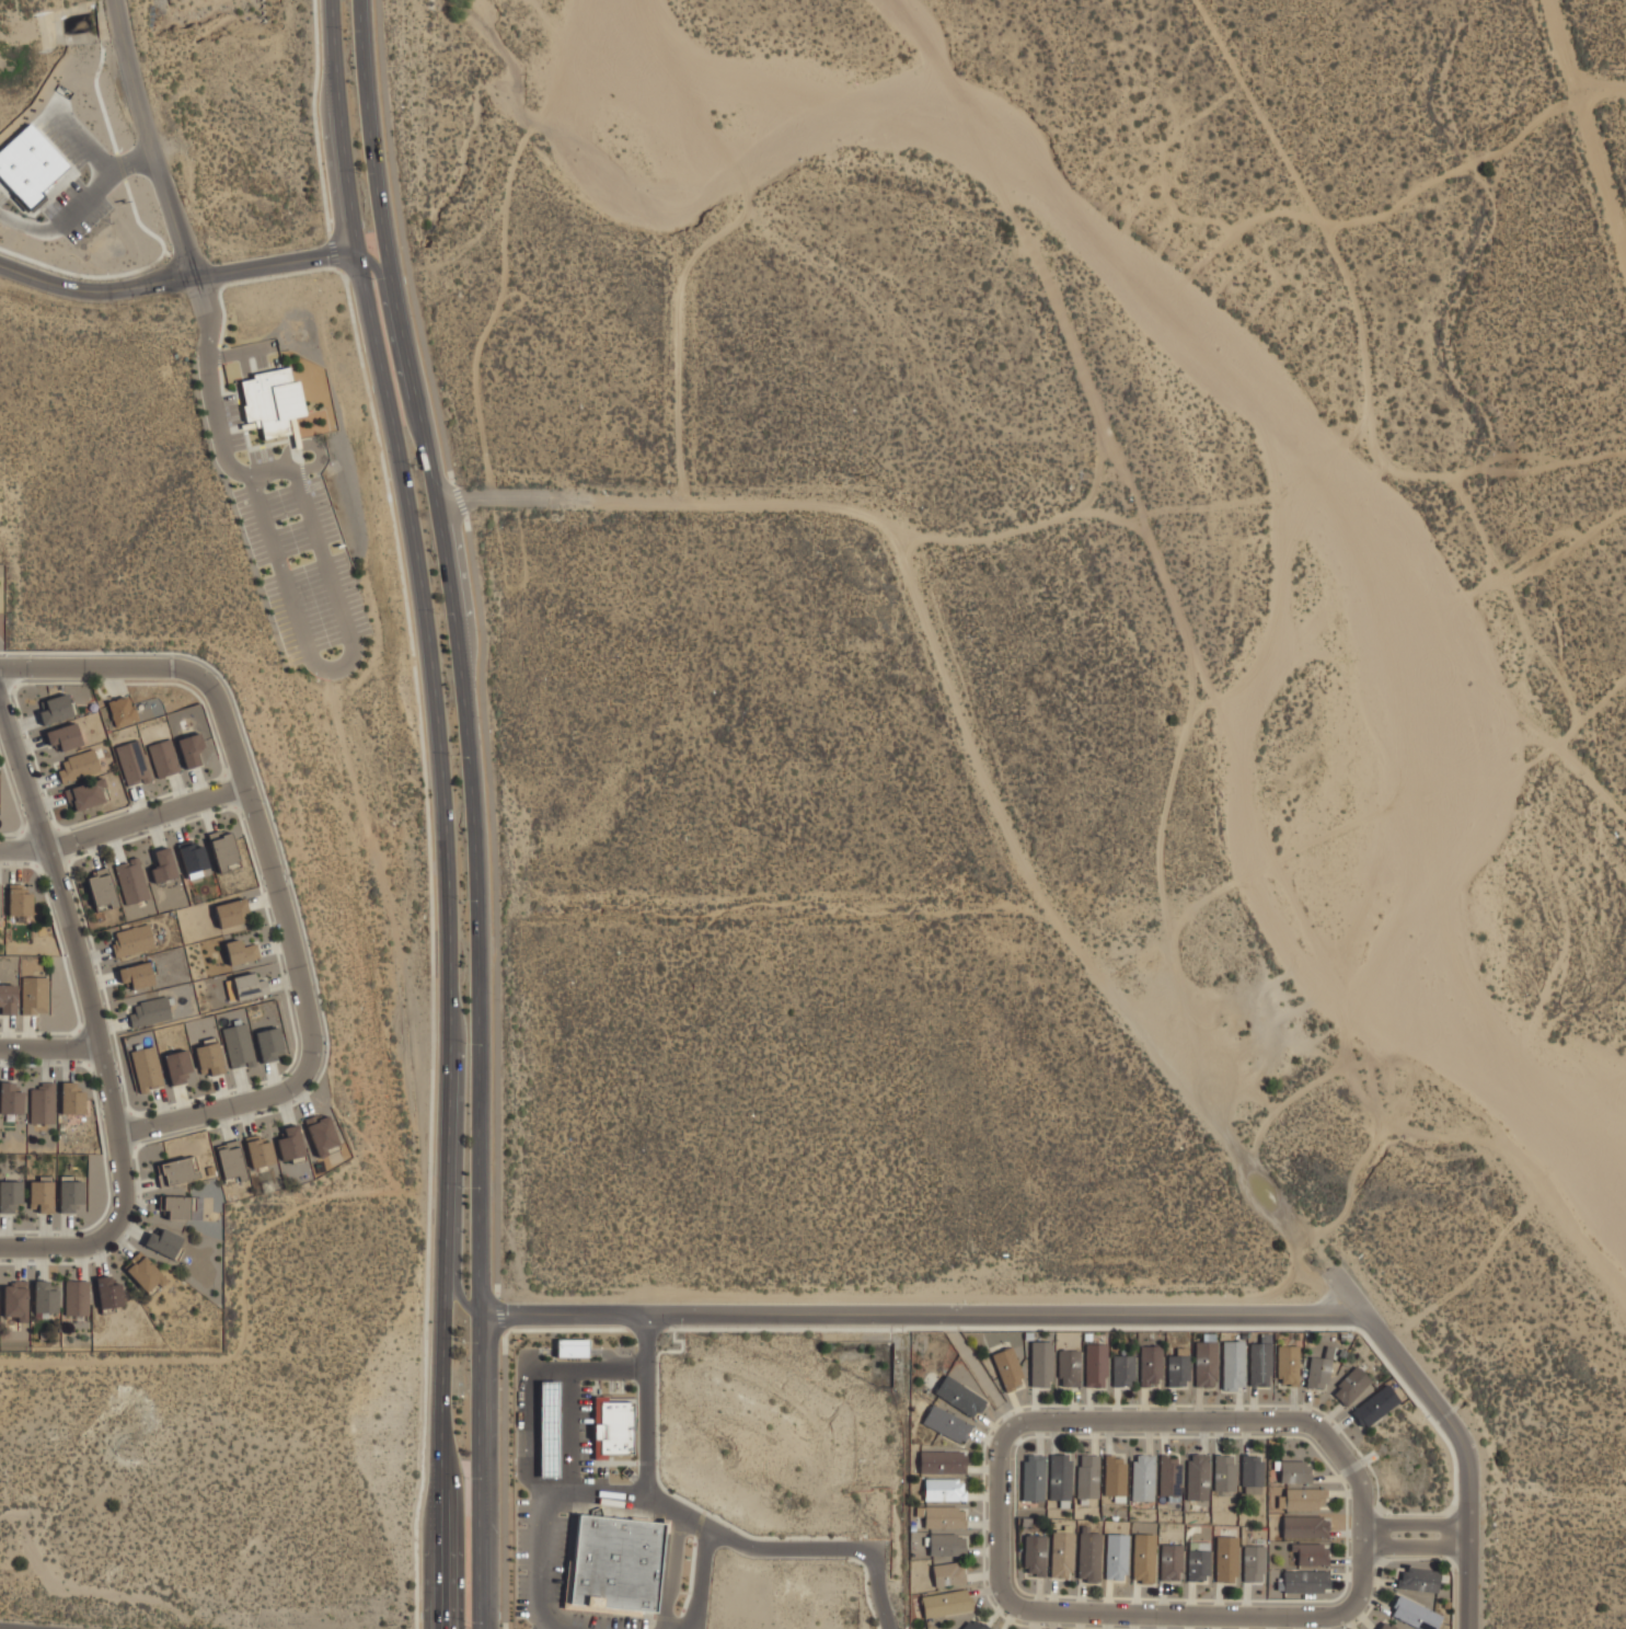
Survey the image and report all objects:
road: (150, 139)
building: (30, 164)
road: (1579, 165)
road: (380, 272)
road: (176, 280)
road: (679, 358)
building: (270, 399)
road: (212, 403)
river: (1280, 420)
road: (494, 502)
building: (56, 708)
building: (120, 708)
building: (62, 736)
building: (189, 749)
building: (162, 756)
building: (130, 760)
building: (77, 765)
road: (982, 769)
building: (85, 793)
road: (443, 810)
road: (472, 810)
road: (123, 825)
building: (223, 850)
building: (193, 856)
building: (162, 864)
road: (269, 869)
building: (130, 880)
building: (101, 888)
building: (18, 898)
building: (231, 911)
building: (130, 939)
building: (240, 950)
building: (137, 974)
building: (247, 984)
building: (33, 994)
building: (8, 998)
building: (149, 1010)
road: (96, 1021)
building: (268, 1043)
building: (237, 1044)
road: (51, 1047)
building: (208, 1056)
building: (177, 1066)
building: (146, 1067)
building: (10, 1098)
building: (70, 1099)
building: (41, 1102)
building: (321, 1134)
building: (290, 1142)
building: (258, 1150)
building: (230, 1160)
building: (175, 1169)
building: (41, 1193)
building: (69, 1194)
building: (10, 1195)
building: (177, 1206)
building: (164, 1241)
road: (454, 1267)
building: (143, 1272)
building: (108, 1293)
building: (44, 1297)
building: (76, 1298)
building: (14, 1301)
road: (923, 1313)
building: (570, 1346)
building: (1259, 1361)
building: (1039, 1363)
building: (1204, 1363)
building: (1289, 1363)
building: (1095, 1364)
building: (1232, 1364)
building: (1150, 1365)
road: (616, 1367)
building: (1068, 1367)
building: (1007, 1368)
building: (1121, 1370)
building: (1177, 1370)
building: (1316, 1370)
building: (1350, 1386)
building: (958, 1395)
building: (1374, 1404)
building: (945, 1422)
building: (612, 1425)
road: (1452, 1427)
building: (547, 1429)
road: (587, 1429)
road: (647, 1452)
building: (942, 1460)
building: (1223, 1471)
building: (1293, 1471)
building: (1250, 1472)
building: (1116, 1475)
building: (1169, 1475)
building: (1087, 1476)
building: (1196, 1476)
building: (1033, 1477)
building: (1059, 1477)
building: (1142, 1477)
building: (944, 1489)
building: (1304, 1498)
building: (939, 1516)
road: (1410, 1523)
building: (1303, 1525)
building: (946, 1544)
road: (1410, 1545)
road: (789, 1548)
building: (1060, 1553)
building: (1310, 1553)
building: (1033, 1555)
building: (1088, 1556)
building: (1115, 1556)
building: (1225, 1557)
building: (1143, 1558)
road: (543, 1560)
building: (1198, 1560)
building: (1169, 1561)
building: (1252, 1562)
building: (612, 1564)
building: (948, 1573)
road: (704, 1578)
building: (1417, 1578)
building: (1304, 1580)
building: (945, 1602)
road: (1035, 1608)
building: (1414, 1613)
building: (973, 1624)
building: (1385, 1625)
road: (888, 1626)

